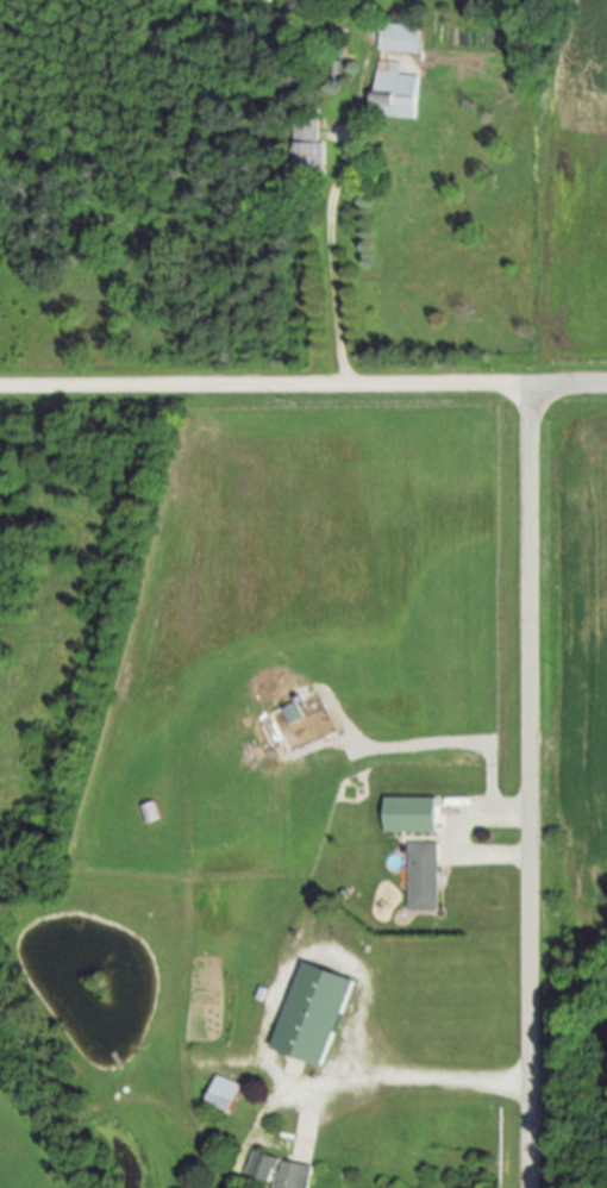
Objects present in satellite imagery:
building: (400, 38)
building: (394, 92)
building: (306, 146)
road: (328, 262)
road: (264, 384)
road: (568, 384)
building: (292, 713)
road: (528, 787)
building: (411, 814)
road: (457, 837)
building: (424, 875)
building: (313, 1012)
road: (352, 1089)
building: (224, 1093)
building: (281, 1171)

